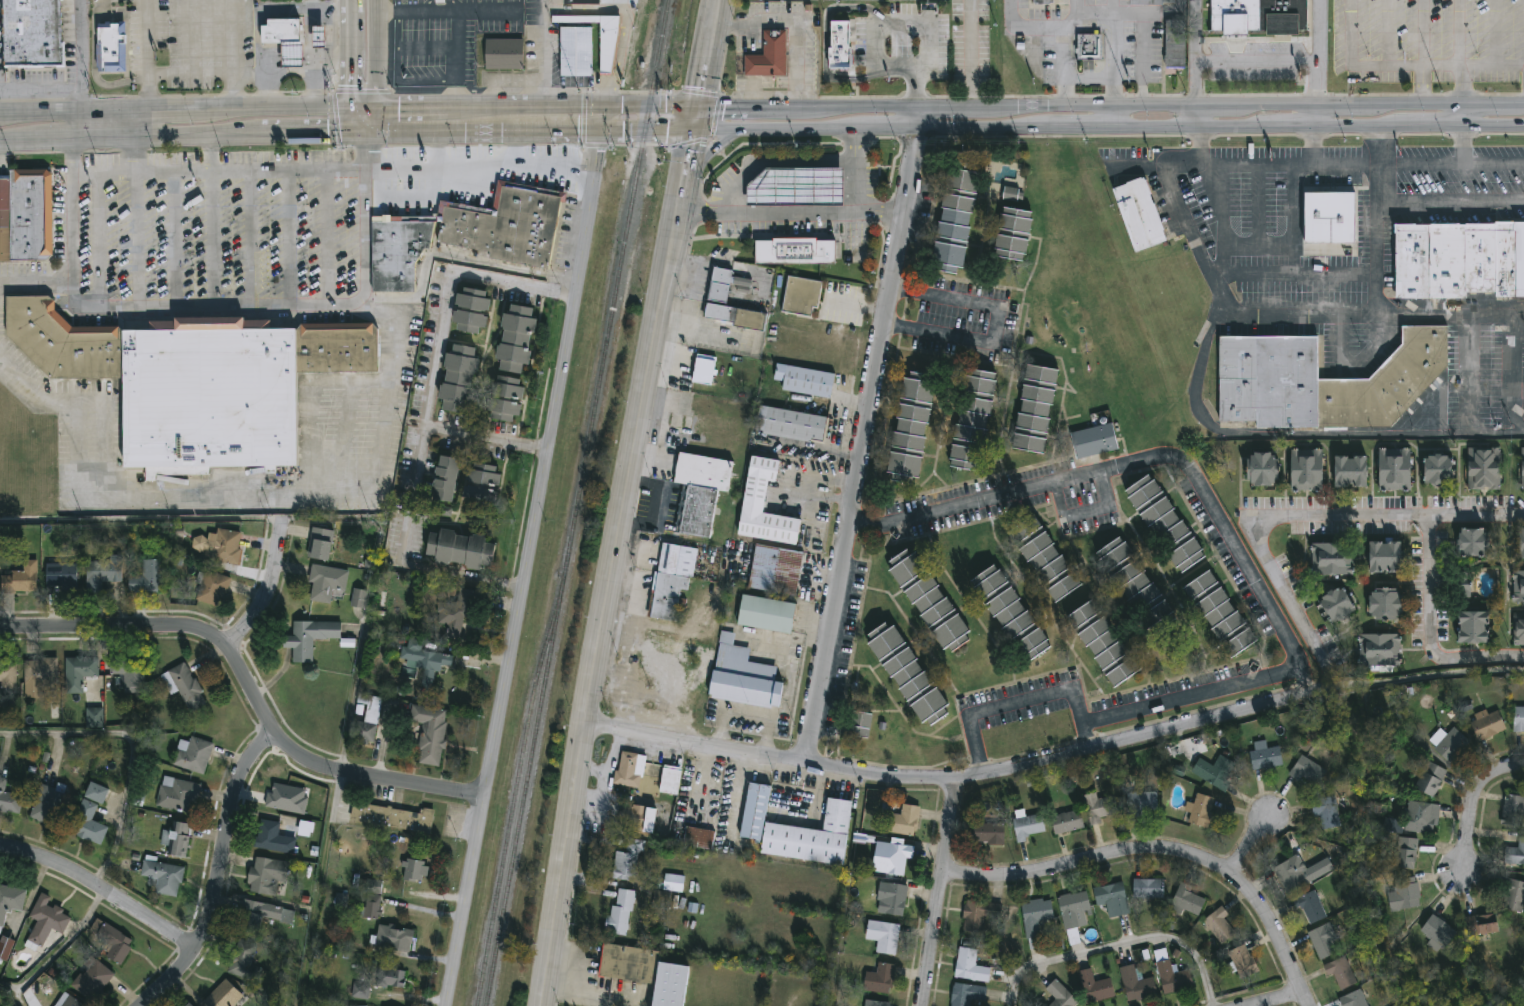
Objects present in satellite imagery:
road: (350, 2)
building: (440, 2)
building: (1043, 2)
building: (1152, 2)
road: (426, 3)
building: (580, 3)
road: (625, 3)
road: (452, 4)
road: (545, 4)
road: (585, 7)
road: (411, 8)
road: (387, 9)
road: (501, 9)
road: (330, 12)
road: (1073, 17)
building: (1260, 17)
road: (794, 24)
road: (309, 30)
road: (1061, 30)
road: (1197, 30)
road: (1319, 30)
building: (845, 31)
building: (281, 32)
building: (30, 33)
road: (1495, 33)
road: (876, 34)
road: (1386, 34)
parking lot: (190, 36)
parking lot: (449, 37)
building: (319, 38)
gas station: (319, 38)
road: (825, 40)
parking lot: (1428, 41)
road: (456, 44)
road: (1144, 44)
building: (1175, 44)
building: (110, 47)
building: (1090, 48)
building: (607, 50)
building: (576, 51)
road: (971, 53)
road: (1113, 53)
road: (376, 54)
building: (504, 54)
road: (234, 55)
building: (769, 55)
road: (1422, 55)
parking lot: (1, 56)
road: (147, 56)
building: (292, 56)
gas station: (292, 56)
road: (619, 56)
road: (351, 57)
road: (545, 57)
road: (327, 60)
road: (1282, 61)
road: (1403, 68)
road: (292, 73)
road: (251, 74)
road: (398, 74)
road: (78, 83)
road: (1461, 83)
road: (1197, 84)
road: (456, 94)
road: (79, 101)
traffic signals: (604, 105)
road: (606, 105)
road: (731, 106)
road: (480, 107)
traffic signals: (698, 107)
road: (1144, 107)
road: (410, 108)
traffic signals: (352, 109)
traffic signals: (377, 109)
road: (188, 112)
road: (1112, 119)
road: (1316, 119)
road: (352, 121)
road: (376, 121)
road: (76, 126)
traffic signals: (691, 132)
road: (1107, 132)
road: (645, 133)
traffic signals: (352, 134)
traffic signals: (376, 134)
road: (307, 135)
road: (447, 135)
traffic signals: (599, 135)
road: (513, 136)
road: (570, 136)
road: (167, 137)
road: (439, 138)
road: (20, 139)
road: (56, 139)
road: (707, 151)
road: (211, 153)
road: (772, 160)
building: (973, 161)
road: (479, 166)
road: (1360, 166)
road: (218, 169)
parking lot: (1459, 171)
road: (855, 173)
building: (796, 185)
gas station: (796, 185)
building: (1010, 194)
road: (1258, 207)
road: (1450, 207)
building: (1140, 213)
building: (25, 214)
road: (788, 214)
building: (1329, 215)
building: (956, 216)
road: (1294, 220)
parking lot: (219, 226)
building: (1014, 232)
parking lot: (1265, 232)
building: (468, 233)
road: (289, 235)
road: (327, 235)
road: (250, 236)
road: (212, 237)
road: (136, 238)
road: (174, 238)
road: (97, 239)
road: (1259, 247)
building: (795, 250)
road: (455, 257)
building: (1460, 259)
road: (727, 264)
road: (1204, 266)
road: (1236, 275)
road: (37, 281)
building: (741, 282)
building: (720, 284)
road: (691, 289)
building: (801, 295)
road: (218, 304)
road: (856, 305)
building: (471, 309)
building: (737, 316)
road: (1408, 318)
road: (994, 325)
road: (690, 330)
building: (515, 338)
building: (704, 368)
road: (1351, 368)
road: (1469, 377)
building: (458, 378)
parking lot: (1474, 378)
building: (195, 380)
building: (805, 380)
building: (1268, 380)
building: (1385, 383)
building: (506, 398)
building: (1035, 408)
building: (973, 418)
road: (424, 422)
building: (790, 424)
building: (911, 427)
road: (862, 433)
road: (485, 436)
road: (1300, 437)
building: (1095, 441)
road: (814, 451)
building: (1264, 468)
building: (1483, 468)
building: (1523, 468)
building: (1307, 469)
building: (1395, 469)
building: (1352, 470)
building: (1440, 471)
building: (445, 478)
building: (480, 485)
building: (701, 491)
road: (239, 496)
road: (625, 501)
railway: (575, 502)
building: (764, 506)
road: (1086, 510)
road: (1385, 512)
building: (1166, 522)
building: (1475, 542)
building: (1523, 542)
building: (319, 543)
building: (226, 546)
building: (460, 549)
road: (528, 556)
building: (1387, 556)
building: (1045, 558)
building: (1330, 558)
building: (775, 569)
building: (102, 573)
building: (60, 575)
building: (21, 577)
building: (148, 577)
building: (671, 580)
building: (326, 582)
building: (1463, 582)
building: (1137, 584)
building: (1519, 586)
building: (211, 587)
road: (268, 588)
road: (1284, 592)
building: (359, 598)
building: (930, 600)
road: (1265, 600)
building: (1338, 605)
building: (1388, 605)
building: (1011, 612)
building: (452, 613)
building: (1221, 613)
building: (766, 614)
building: (1475, 627)
road: (1424, 629)
building: (1519, 629)
building: (308, 639)
building: (1104, 644)
building: (1380, 652)
building: (423, 660)
building: (79, 672)
building: (40, 673)
building: (908, 673)
building: (7, 674)
building: (128, 674)
building: (743, 675)
building: (183, 686)
road: (249, 687)
road: (1334, 689)
building: (94, 717)
building: (367, 719)
building: (1519, 719)
building: (1487, 724)
building: (858, 725)
building: (429, 733)
building: (1450, 744)
road: (132, 748)
building: (193, 754)
building: (1267, 758)
building: (630, 770)
building: (1307, 771)
building: (1219, 773)
road: (953, 776)
building: (1431, 779)
building: (670, 781)
building: (95, 793)
building: (176, 794)
railway: (513, 796)
building: (287, 799)
building: (9, 800)
road: (1473, 801)
building: (1141, 803)
building: (49, 806)
building: (1099, 808)
building: (1200, 810)
building: (1326, 811)
building: (1513, 811)
building: (755, 812)
building: (1423, 816)
building: (392, 818)
building: (637, 818)
building: (904, 820)
building: (1068, 822)
building: (87, 823)
building: (1392, 825)
building: (1027, 827)
building: (306, 828)
building: (989, 833)
building: (698, 838)
building: (812, 838)
building: (274, 839)
building: (176, 840)
road: (1249, 844)
park: (1364, 846)
road: (1162, 851)
building: (1406, 852)
building: (1516, 853)
building: (896, 858)
building: (628, 861)
building: (414, 870)
road: (216, 871)
building: (1292, 875)
building: (161, 876)
building: (266, 876)
building: (673, 880)
road: (100, 886)
building: (1149, 889)
road: (940, 891)
building: (1404, 895)
building: (1514, 896)
building: (1112, 898)
building: (661, 899)
building: (341, 900)
building: (894, 900)
building: (10, 901)
building: (1187, 901)
building: (1312, 907)
building: (371, 908)
building: (1074, 910)
building: (620, 913)
building: (260, 916)
building: (979, 916)
building: (1035, 920)
building: (45, 921)
building: (1482, 924)
building: (1220, 925)
building: (1438, 933)
building: (884, 936)
building: (392, 938)
building: (1324, 941)
building: (112, 942)
road: (1120, 944)
building: (5, 948)
road: (58, 950)
building: (242, 961)
building: (1242, 963)
building: (971, 967)
building: (1343, 971)
building: (645, 972)
building: (1173, 977)
building: (390, 978)
building: (880, 978)
building: (92, 979)
building: (1137, 984)
building: (1095, 987)
building: (361, 990)
building: (221, 994)
building: (967, 994)
building: (1061, 995)
building: (1354, 999)
building: (67, 1001)
road: (1279, 1001)
building: (875, 1003)
building: (187, 1004)
building: (348, 1005)

